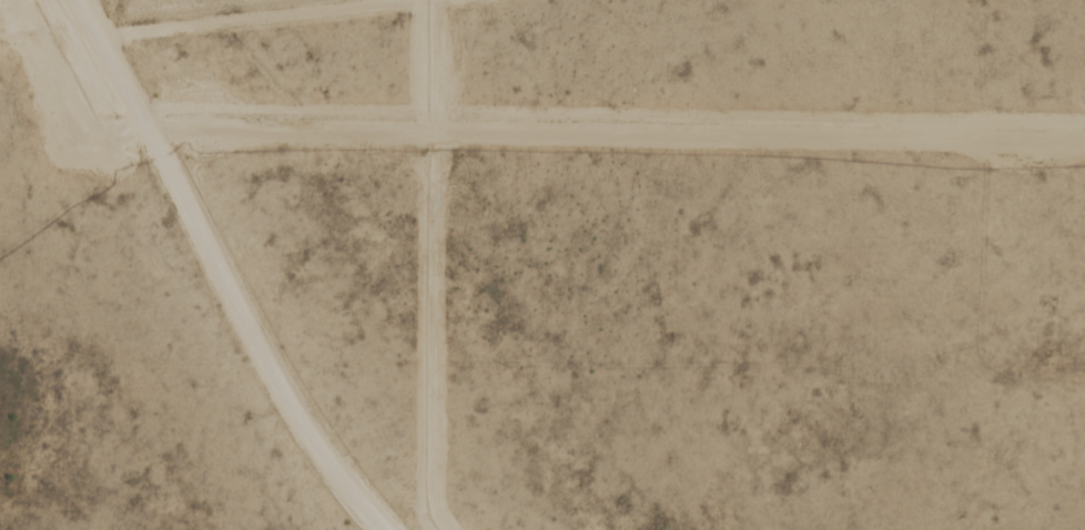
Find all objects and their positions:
road: (226, 272)

